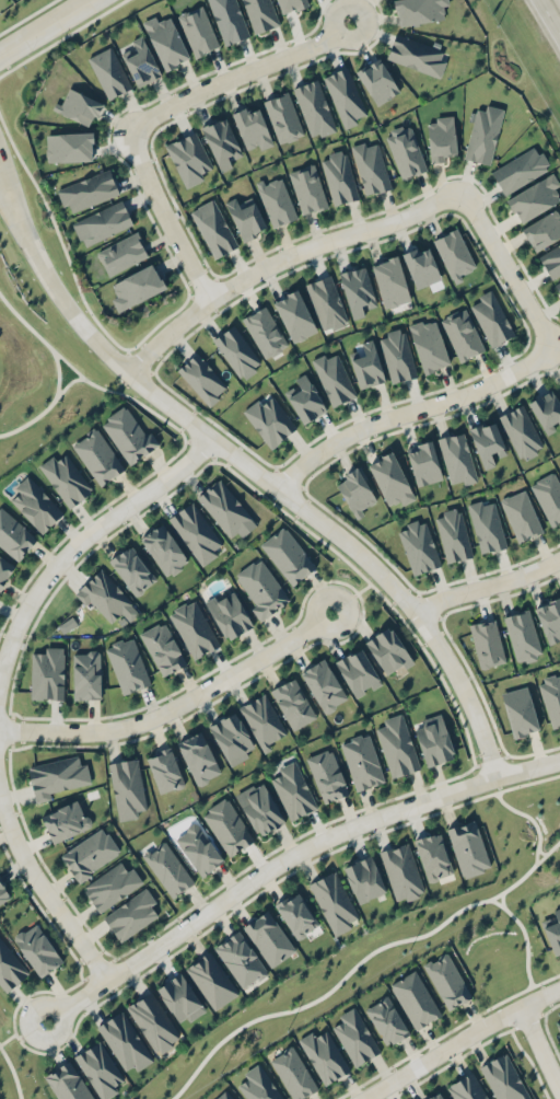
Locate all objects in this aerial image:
building: (291, 4)
building: (420, 10)
building: (260, 14)
building: (229, 20)
road: (548, 20)
road: (45, 26)
building: (198, 28)
building: (165, 41)
building: (416, 54)
building: (141, 61)
building: (109, 72)
road: (242, 74)
building: (377, 81)
building: (345, 96)
building: (78, 105)
building: (314, 107)
building: (282, 116)
building: (253, 127)
building: (482, 135)
building: (441, 138)
building: (221, 140)
building: (69, 147)
building: (406, 151)
building: (189, 158)
building: (371, 167)
building: (520, 169)
building: (339, 176)
road: (11, 186)
building: (307, 186)
building: (87, 190)
building: (535, 197)
building: (277, 200)
road: (11, 205)
road: (166, 217)
building: (246, 217)
building: (102, 222)
building: (213, 228)
building: (542, 230)
building: (121, 253)
building: (454, 253)
road: (281, 258)
building: (551, 259)
building: (421, 266)
road: (506, 266)
building: (389, 280)
building: (558, 284)
building: (137, 286)
building: (358, 290)
building: (326, 302)
building: (294, 314)
building: (491, 316)
building: (265, 331)
building: (463, 334)
building: (430, 345)
building: (237, 351)
building: (397, 354)
building: (366, 365)
road: (58, 368)
building: (202, 378)
building: (334, 378)
building: (559, 386)
building: (305, 398)
building: (547, 407)
road: (408, 410)
building: (270, 420)
building: (521, 430)
building: (129, 432)
building: (488, 443)
building: (97, 454)
building: (457, 458)
building: (423, 462)
building: (66, 477)
building: (390, 478)
road: (276, 485)
building: (357, 490)
building: (548, 496)
building: (34, 502)
building: (223, 506)
building: (521, 514)
building: (487, 525)
building: (195, 531)
building: (15, 534)
building: (453, 534)
building: (419, 546)
road: (73, 548)
building: (163, 548)
building: (287, 554)
building: (4, 568)
building: (131, 568)
road: (488, 585)
building: (259, 587)
building: (103, 595)
building: (227, 612)
building: (551, 615)
building: (194, 627)
building: (525, 632)
building: (490, 640)
building: (162, 646)
building: (388, 649)
building: (127, 663)
building: (358, 671)
building: (47, 673)
building: (86, 673)
building: (323, 684)
building: (552, 694)
building: (292, 702)
road: (176, 706)
building: (521, 707)
building: (262, 720)
building: (232, 737)
building: (433, 739)
building: (397, 744)
building: (198, 756)
building: (362, 760)
building: (164, 767)
building: (327, 774)
building: (58, 776)
building: (127, 786)
building: (293, 790)
road: (505, 803)
building: (259, 807)
building: (66, 820)
building: (227, 826)
building: (198, 847)
building: (468, 847)
building: (90, 853)
building: (433, 855)
road: (287, 859)
building: (167, 867)
building: (401, 870)
building: (363, 877)
building: (113, 884)
road: (44, 887)
building: (3, 893)
building: (334, 901)
building: (296, 913)
building: (130, 914)
building: (552, 930)
building: (268, 936)
building: (37, 948)
building: (241, 958)
road: (359, 962)
building: (10, 967)
building: (211, 979)
building: (447, 981)
building: (180, 997)
building: (415, 999)
building: (387, 1020)
building: (154, 1021)
building: (559, 1026)
road: (8, 1036)
building: (355, 1037)
road: (457, 1040)
building: (124, 1041)
road: (541, 1048)
building: (324, 1055)
building: (98, 1068)
road: (13, 1069)
building: (293, 1073)
building: (504, 1078)
building: (68, 1081)
building: (258, 1085)
building: (467, 1087)
building: (224, 1096)
building: (436, 1096)

